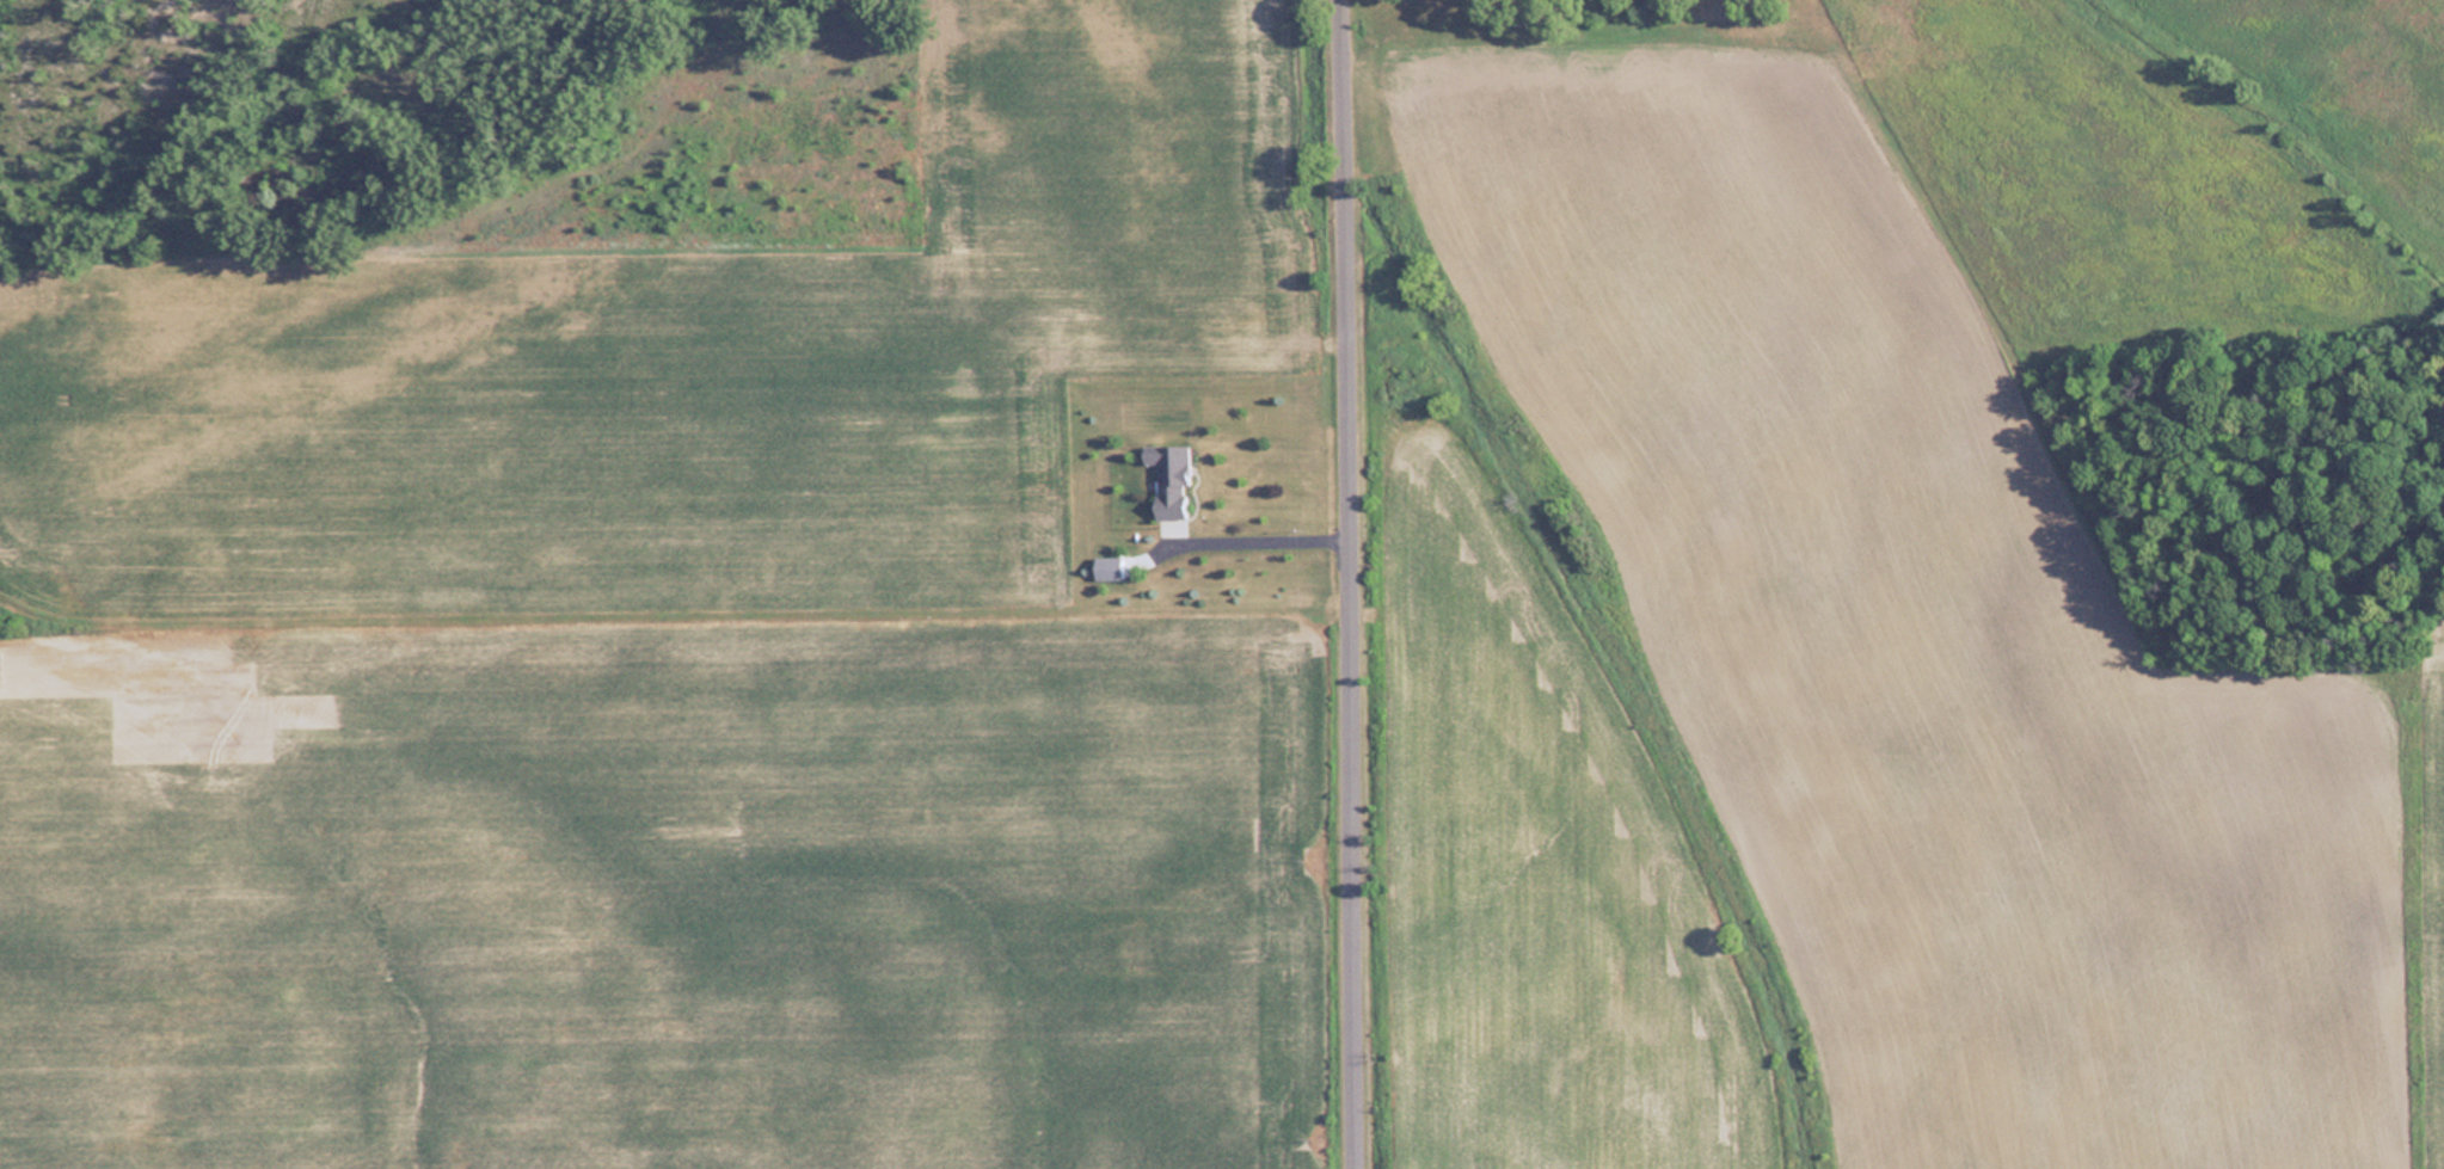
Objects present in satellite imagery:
building: (1167, 478)
road: (1251, 540)
road: (1350, 584)
road: (1144, 1105)

